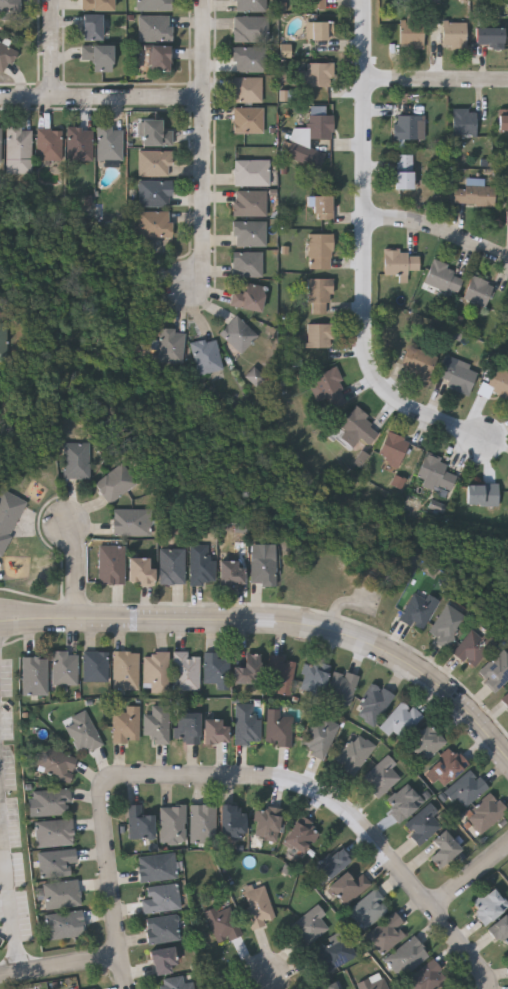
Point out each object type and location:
building: (314, 3)
building: (95, 4)
building: (152, 4)
building: (8, 5)
building: (248, 5)
building: (91, 26)
building: (153, 27)
building: (249, 29)
building: (317, 29)
building: (453, 32)
building: (410, 33)
building: (488, 34)
road: (54, 50)
building: (5, 56)
building: (97, 56)
building: (158, 58)
building: (248, 58)
building: (317, 73)
road: (438, 80)
building: (246, 89)
road: (103, 100)
building: (247, 119)
building: (462, 120)
building: (503, 121)
building: (405, 125)
building: (154, 132)
building: (298, 137)
building: (17, 142)
building: (108, 142)
building: (47, 143)
building: (78, 143)
road: (205, 145)
building: (1, 146)
building: (153, 162)
building: (402, 170)
building: (250, 171)
building: (153, 193)
building: (472, 193)
building: (248, 202)
building: (321, 207)
building: (506, 215)
building: (153, 223)
road: (440, 229)
building: (248, 233)
building: (319, 249)
road: (369, 250)
building: (400, 262)
building: (246, 263)
building: (441, 275)
building: (318, 289)
building: (477, 290)
building: (247, 297)
building: (506, 313)
building: (237, 333)
building: (318, 335)
building: (2, 340)
building: (169, 345)
building: (205, 356)
building: (418, 362)
building: (256, 377)
building: (455, 377)
building: (499, 383)
building: (327, 390)
building: (356, 428)
building: (391, 448)
building: (75, 460)
building: (434, 473)
building: (114, 483)
building: (481, 493)
park: (313, 512)
building: (8, 515)
building: (130, 522)
building: (111, 565)
building: (201, 566)
building: (172, 567)
building: (262, 569)
road: (78, 570)
building: (140, 571)
building: (231, 574)
building: (417, 611)
road: (39, 612)
road: (39, 624)
building: (446, 626)
road: (316, 627)
building: (473, 648)
building: (95, 667)
building: (64, 669)
building: (216, 669)
building: (125, 671)
building: (185, 671)
building: (247, 671)
building: (156, 672)
building: (495, 672)
building: (280, 674)
building: (34, 677)
building: (313, 678)
building: (340, 690)
building: (505, 700)
building: (373, 704)
building: (400, 721)
building: (156, 724)
building: (125, 725)
building: (246, 725)
building: (187, 728)
building: (277, 728)
building: (81, 732)
building: (215, 732)
building: (320, 735)
building: (426, 742)
building: (354, 753)
building: (56, 765)
building: (447, 765)
road: (0, 774)
building: (380, 777)
building: (465, 789)
building: (51, 802)
building: (405, 803)
road: (339, 805)
building: (485, 813)
building: (231, 821)
building: (138, 824)
building: (171, 824)
building: (266, 824)
building: (422, 824)
building: (202, 825)
building: (53, 833)
building: (301, 835)
building: (442, 849)
building: (55, 863)
building: (332, 863)
building: (156, 868)
road: (470, 877)
road: (112, 880)
building: (348, 888)
building: (60, 895)
road: (10, 897)
building: (159, 899)
building: (257, 906)
building: (488, 906)
building: (368, 910)
building: (221, 922)
building: (64, 926)
building: (309, 926)
building: (500, 928)
building: (162, 930)
building: (387, 934)
building: (334, 955)
building: (406, 957)
building: (162, 962)
road: (61, 965)
building: (426, 977)
building: (175, 983)
road: (274, 983)
building: (373, 983)
road: (492, 983)
building: (329, 986)

